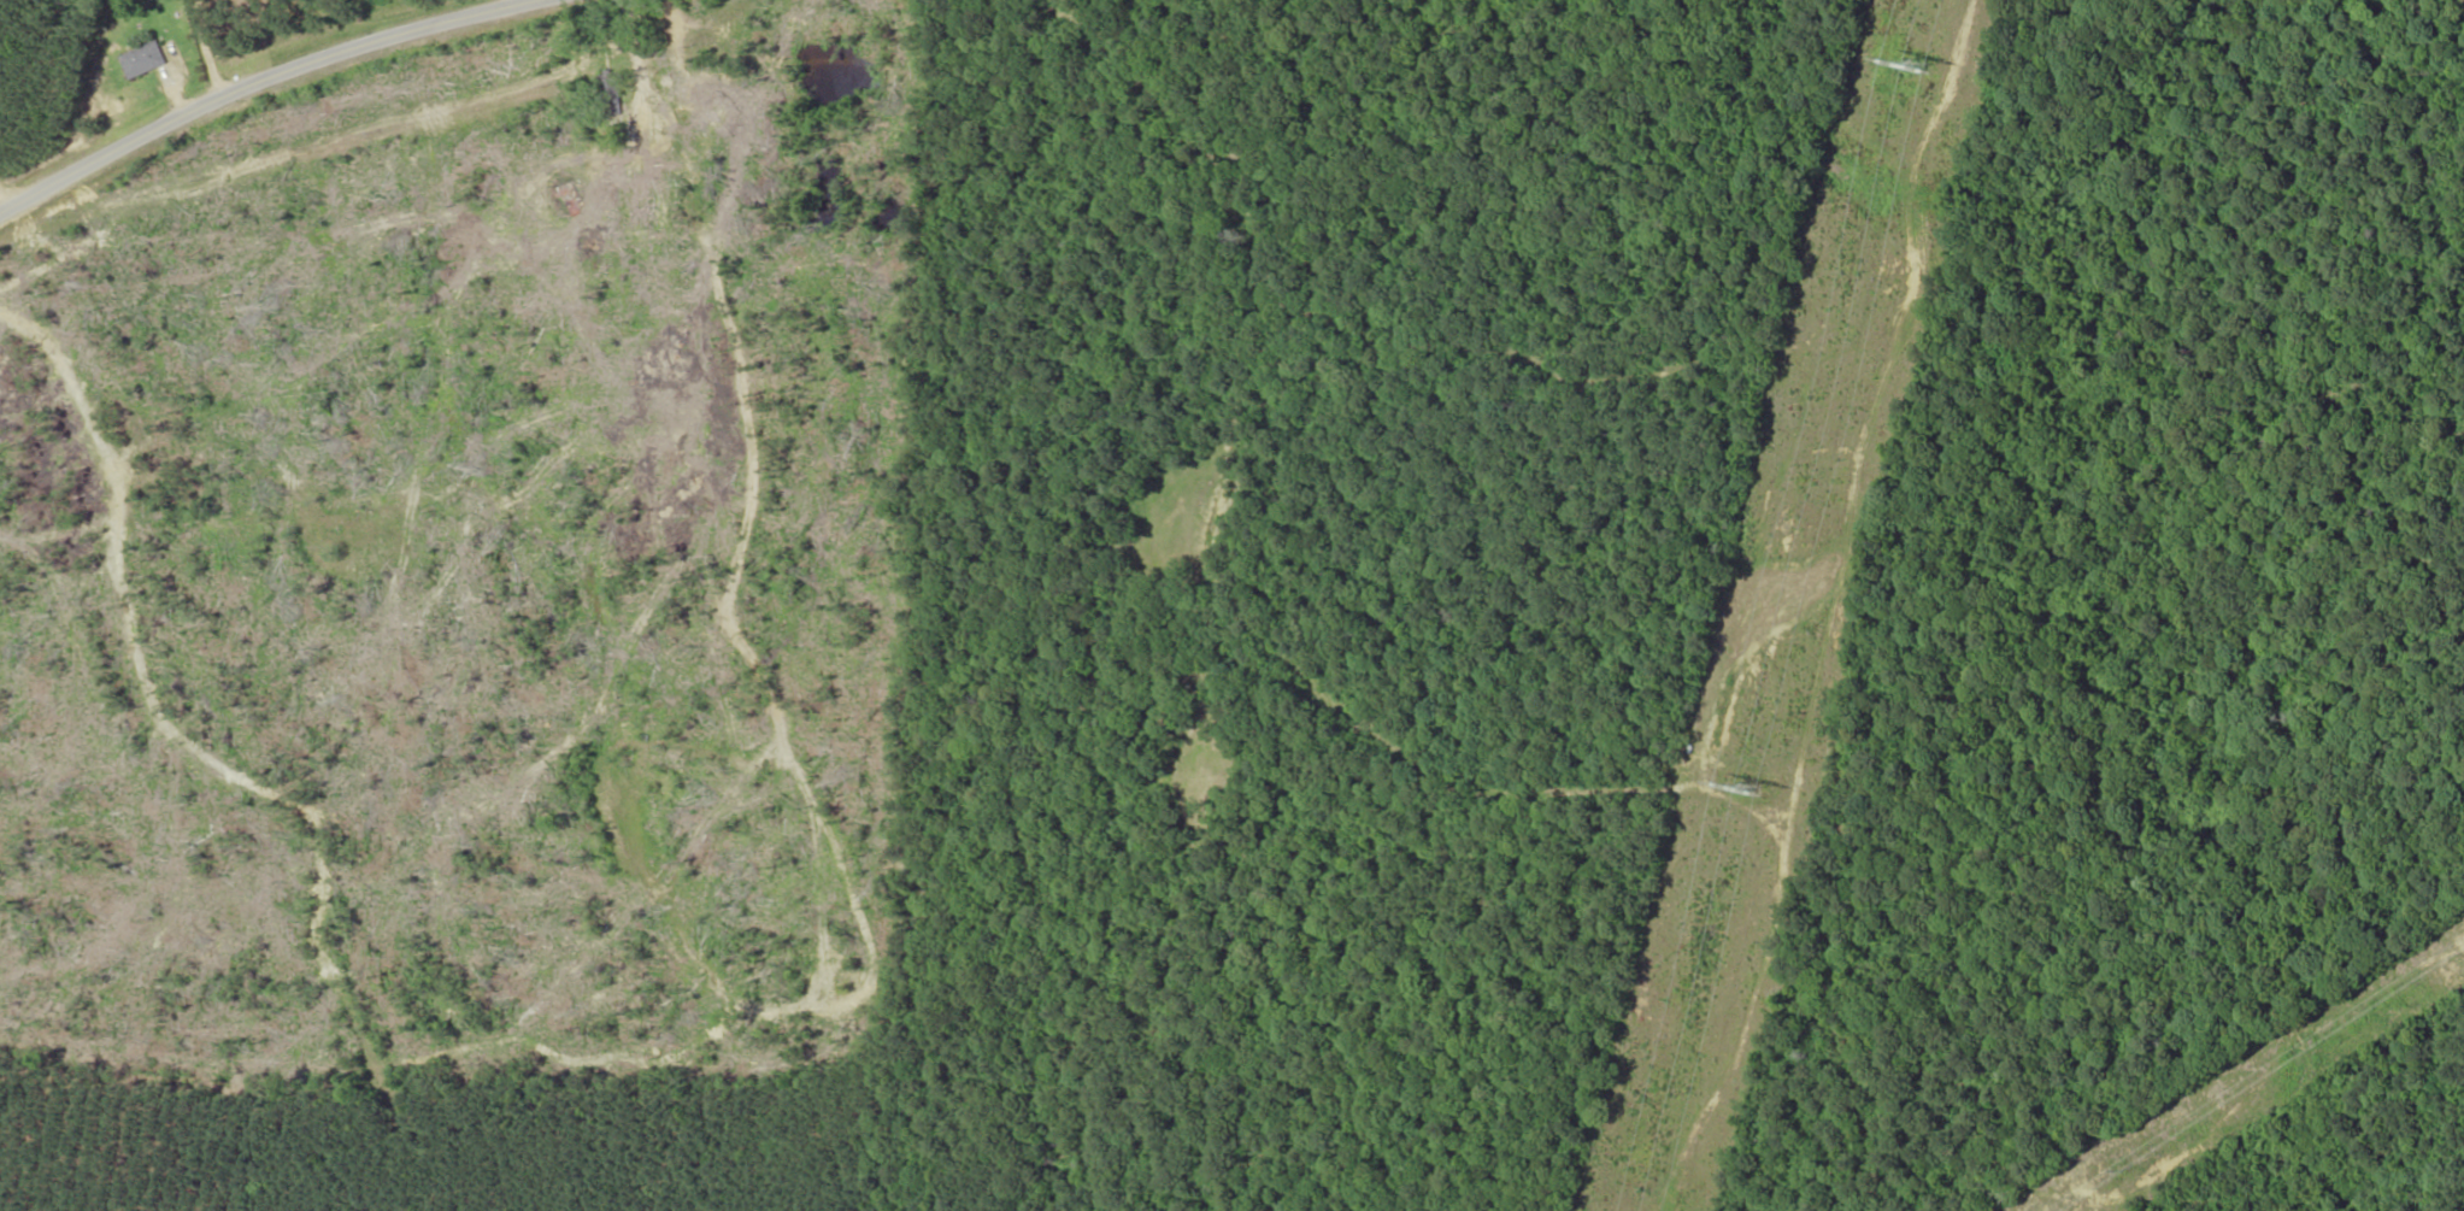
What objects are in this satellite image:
road: (206, 48)
building: (142, 59)
power tower: (1922, 72)
road: (264, 81)

